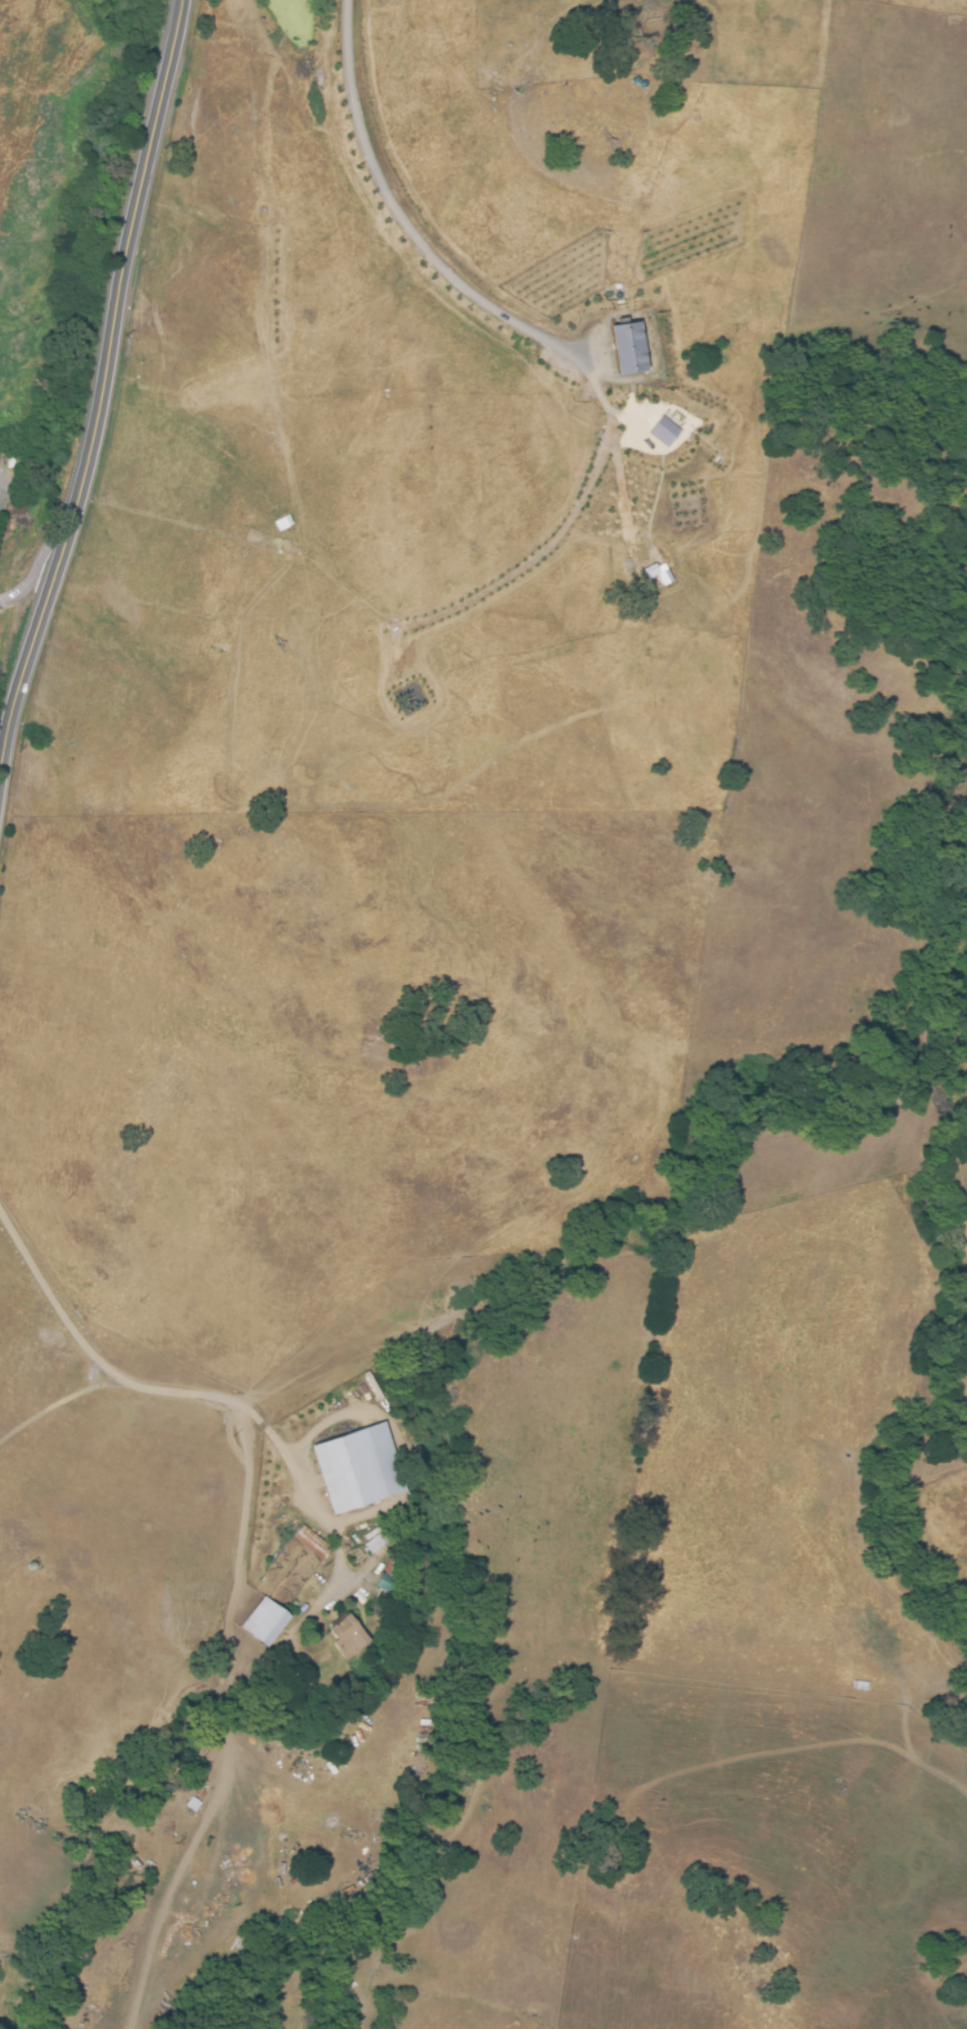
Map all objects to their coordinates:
road: (399, 223)
building: (632, 345)
road: (98, 366)
building: (664, 432)
road: (25, 572)
building: (660, 573)
road: (142, 1393)
building: (359, 1469)
road: (242, 1516)
building: (309, 1542)
building: (265, 1622)
building: (349, 1637)

